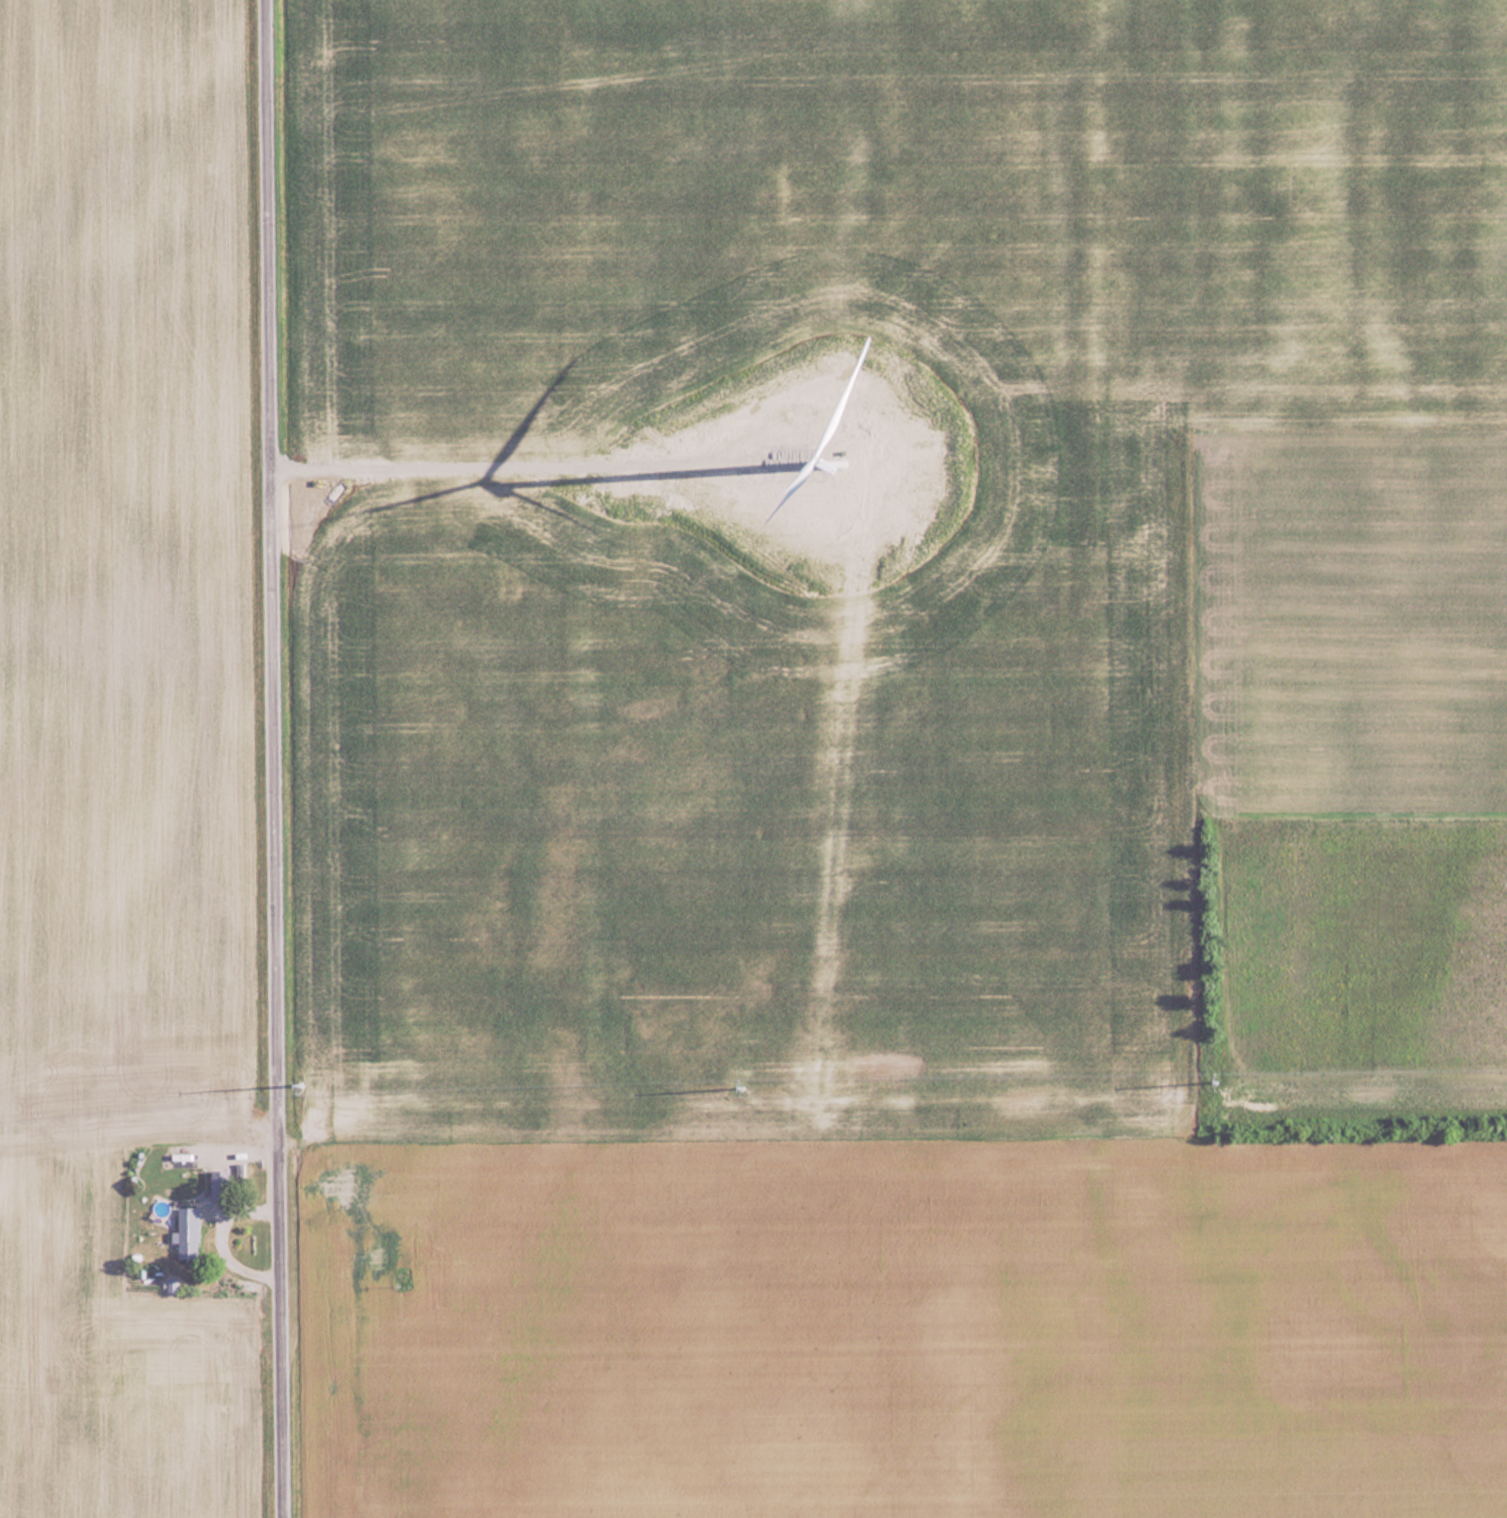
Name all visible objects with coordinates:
wind turbine: (826, 459)
road: (274, 758)
building: (225, 1182)
building: (188, 1232)

